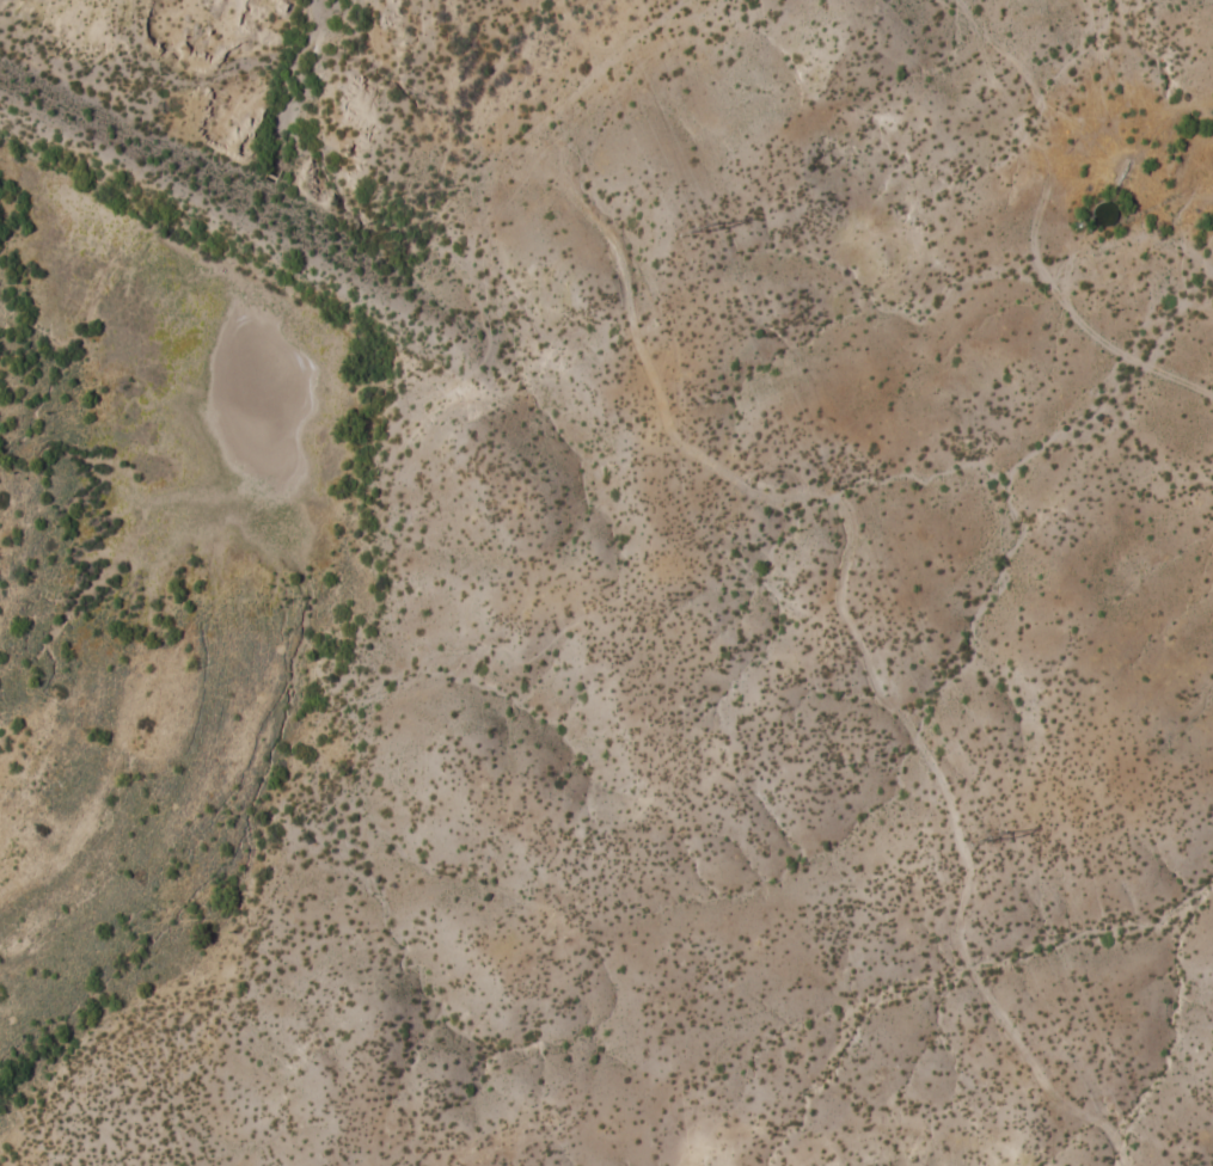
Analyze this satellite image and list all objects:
power tower: (706, 222)
power tower: (991, 834)

